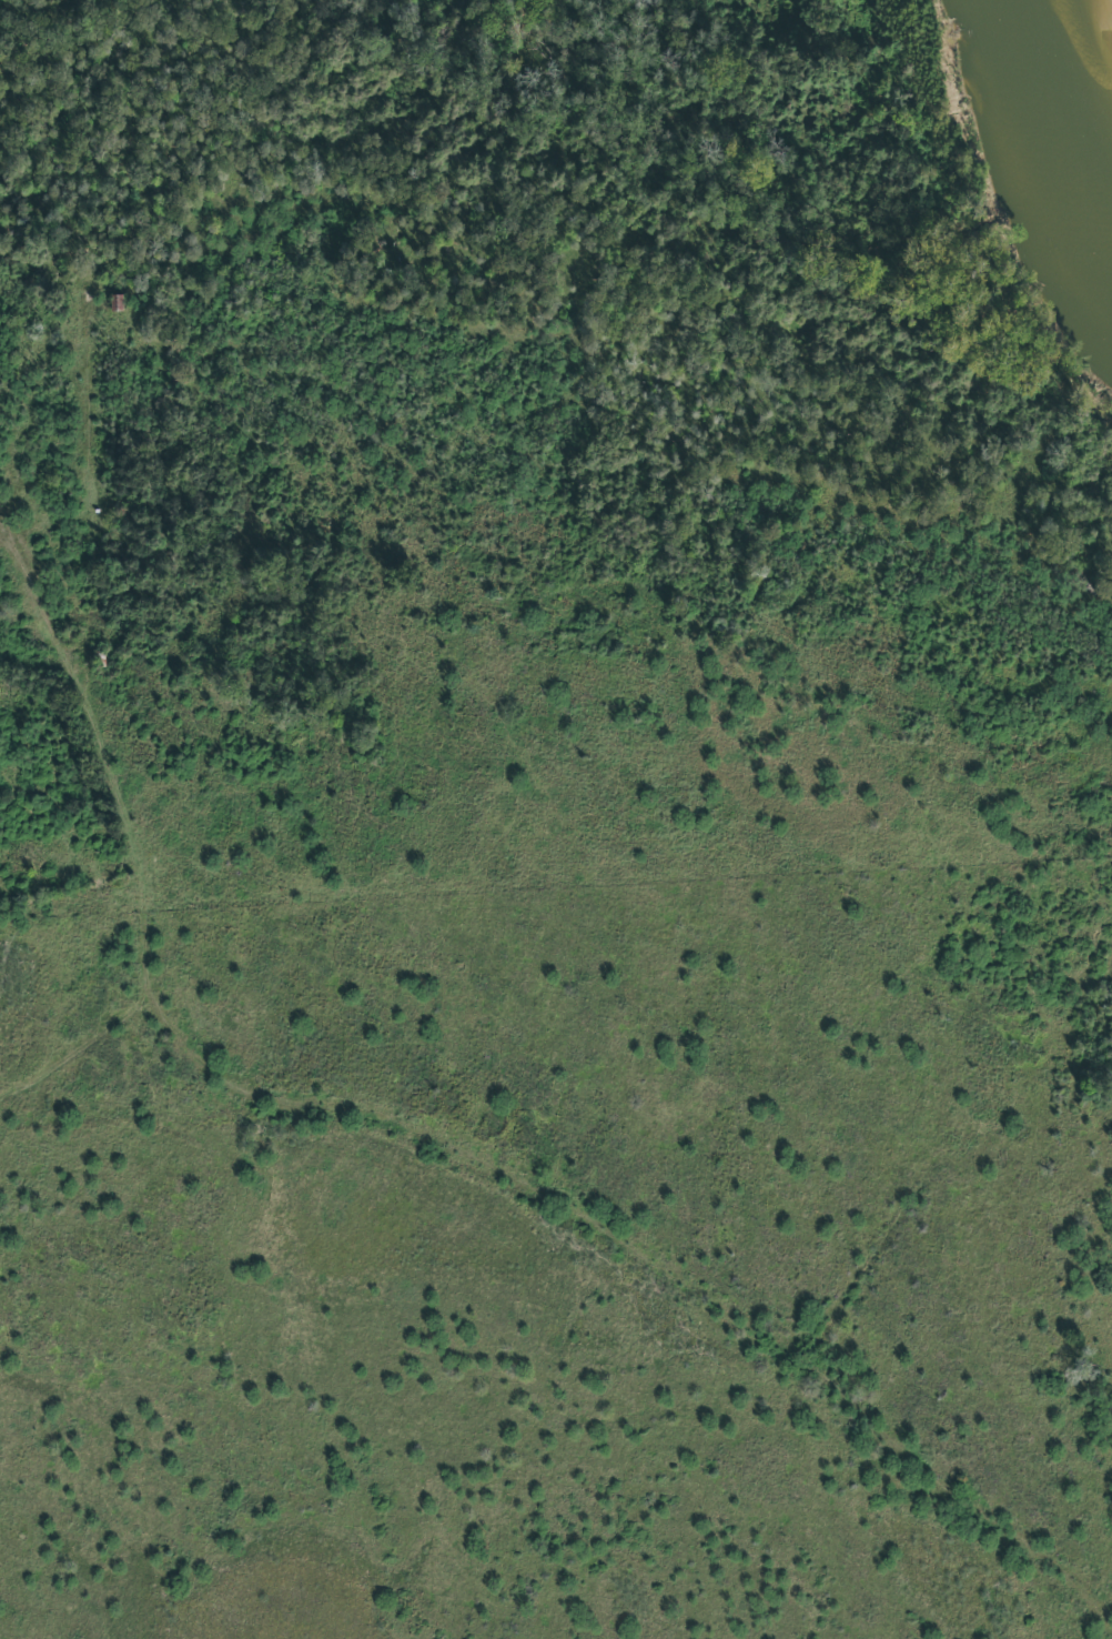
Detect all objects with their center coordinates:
river: (1070, 100)
road: (92, 511)
road: (11, 525)
road: (87, 869)
road: (117, 1118)
road: (413, 1127)

